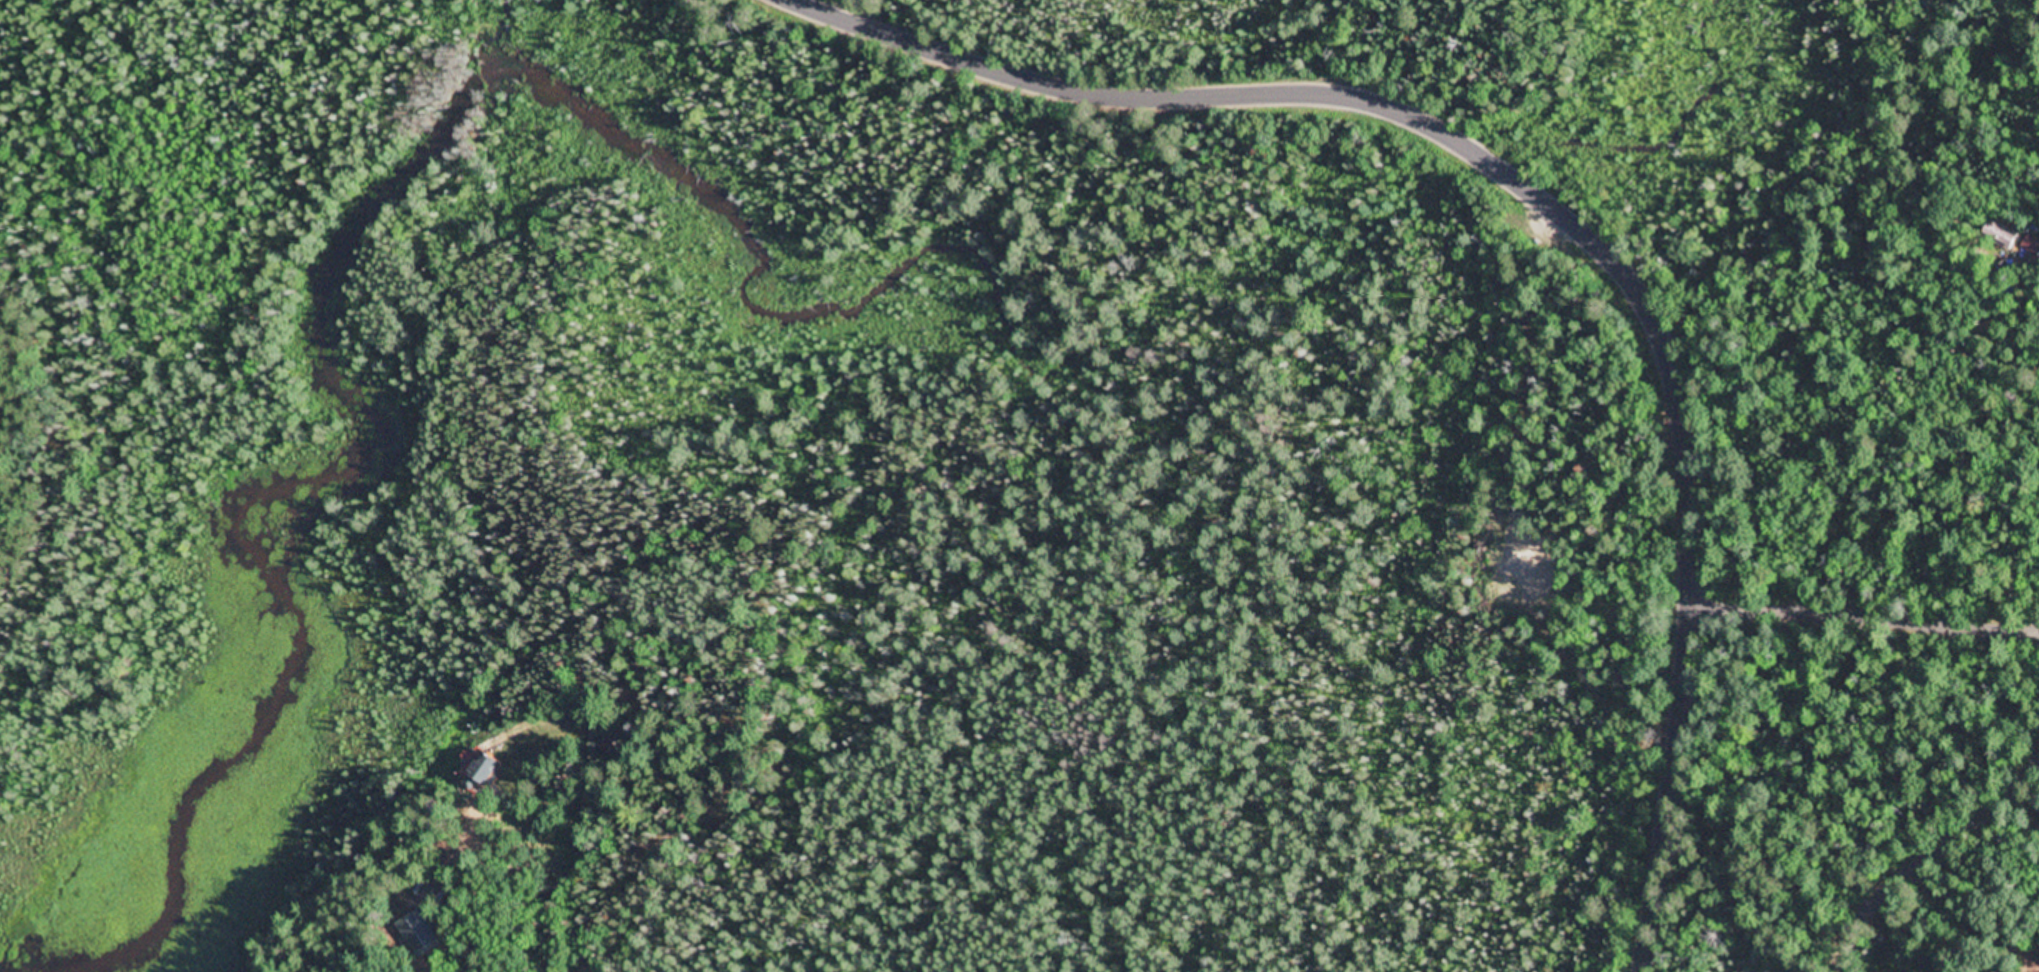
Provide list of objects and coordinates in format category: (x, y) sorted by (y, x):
road: (1567, 212)
building: (2002, 236)
road: (1866, 618)
building: (492, 770)
road: (1922, 856)
road: (482, 929)
building: (420, 932)
building: (2038, 955)

